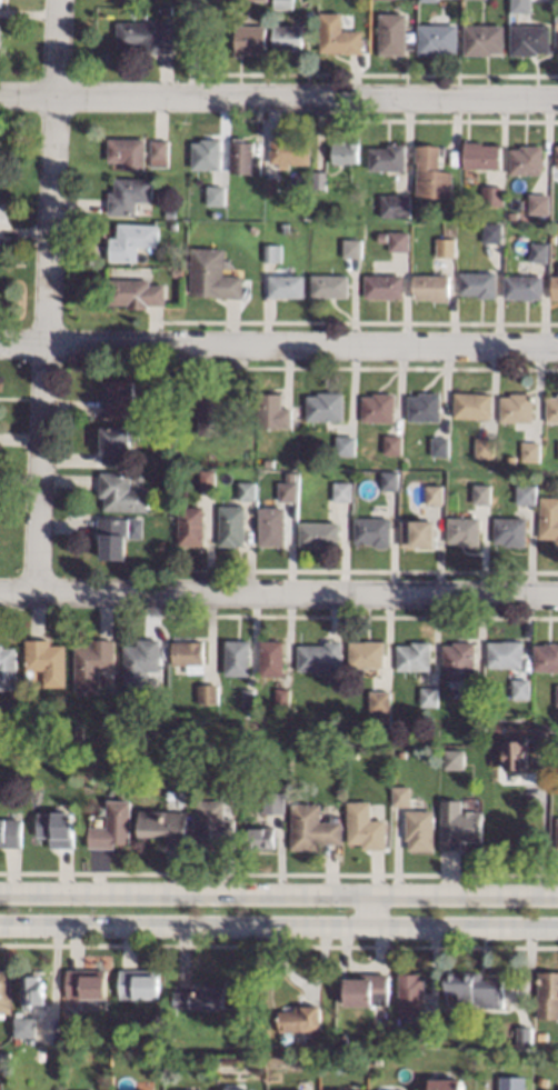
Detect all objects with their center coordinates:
building: (259, 0)
building: (425, 0)
building: (1, 3)
building: (285, 4)
building: (518, 6)
building: (170, 9)
building: (395, 33)
building: (1, 34)
building: (149, 34)
building: (340, 34)
building: (289, 38)
building: (438, 38)
building: (252, 39)
building: (486, 39)
building: (531, 39)
building: (557, 43)
road: (195, 48)
road: (278, 96)
building: (290, 151)
building: (346, 151)
building: (130, 152)
building: (162, 152)
building: (208, 153)
building: (484, 154)
building: (245, 157)
building: (389, 157)
building: (557, 157)
building: (527, 159)
building: (434, 172)
building: (321, 179)
building: (273, 186)
building: (131, 194)
building: (495, 194)
building: (218, 196)
building: (540, 202)
building: (397, 206)
building: (172, 213)
building: (514, 214)
building: (286, 228)
building: (494, 232)
building: (385, 236)
building: (554, 238)
building: (134, 240)
building: (400, 240)
building: (447, 247)
building: (355, 248)
building: (540, 251)
building: (275, 252)
building: (146, 256)
building: (378, 267)
building: (180, 271)
building: (216, 273)
building: (479, 283)
building: (288, 286)
building: (331, 286)
building: (385, 286)
building: (432, 286)
building: (525, 287)
building: (556, 287)
building: (137, 292)
road: (46, 296)
road: (279, 346)
building: (124, 400)
building: (474, 404)
building: (326, 406)
building: (425, 406)
building: (379, 407)
building: (518, 407)
building: (552, 408)
building: (220, 410)
building: (275, 410)
building: (169, 431)
building: (119, 442)
building: (349, 442)
building: (393, 443)
building: (440, 446)
building: (486, 447)
building: (530, 451)
building: (557, 451)
building: (271, 462)
building: (292, 474)
building: (210, 479)
building: (390, 480)
building: (545, 483)
building: (249, 490)
building: (289, 491)
building: (345, 491)
building: (123, 492)
building: (436, 493)
building: (484, 493)
building: (528, 493)
building: (549, 517)
building: (193, 526)
building: (235, 526)
building: (273, 526)
building: (132, 528)
building: (375, 530)
building: (466, 530)
building: (512, 531)
building: (321, 533)
building: (419, 533)
building: (114, 537)
road: (279, 594)
building: (368, 653)
building: (507, 653)
building: (191, 654)
building: (321, 656)
building: (415, 656)
building: (239, 657)
building: (460, 657)
building: (547, 657)
building: (273, 658)
building: (49, 660)
building: (143, 660)
building: (96, 662)
building: (9, 666)
building: (522, 688)
building: (210, 693)
building: (474, 693)
building: (429, 696)
building: (250, 697)
building: (285, 697)
building: (382, 708)
building: (79, 730)
building: (545, 737)
building: (517, 751)
building: (356, 752)
building: (455, 759)
building: (403, 796)
building: (277, 802)
building: (218, 824)
building: (460, 824)
building: (116, 826)
building: (169, 826)
building: (367, 826)
building: (316, 827)
building: (60, 828)
building: (421, 829)
building: (12, 832)
road: (541, 832)
building: (556, 832)
building: (263, 837)
road: (279, 892)
road: (367, 910)
road: (278, 926)
building: (84, 984)
building: (138, 984)
building: (366, 990)
building: (4, 991)
building: (471, 991)
building: (31, 992)
building: (408, 994)
building: (546, 996)
building: (198, 998)
building: (300, 1020)
building: (22, 1028)
building: (426, 1030)
building: (170, 1032)
building: (520, 1036)
building: (539, 1037)
building: (63, 1039)
building: (340, 1041)
building: (171, 1049)
building: (4, 1058)
building: (376, 1062)
building: (539, 1081)
building: (444, 1083)
building: (509, 1083)
building: (238, 1089)

